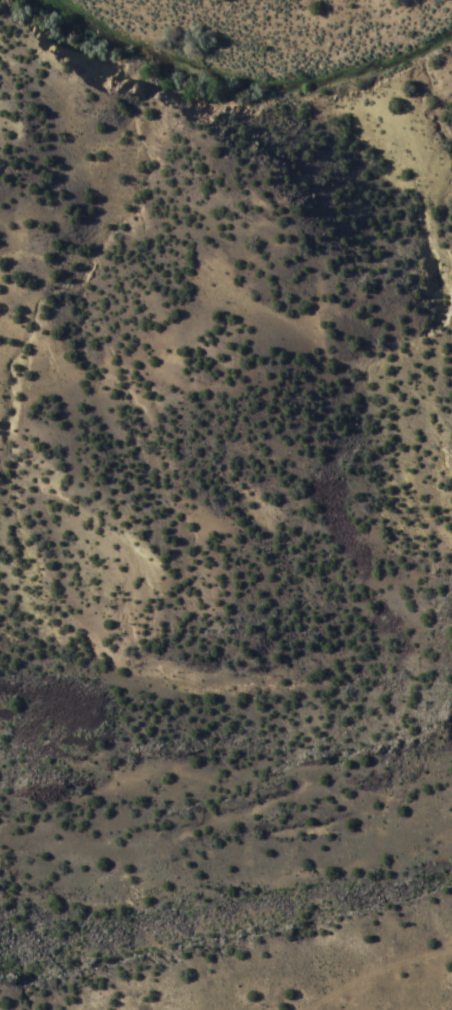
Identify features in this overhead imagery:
river: (224, 81)

